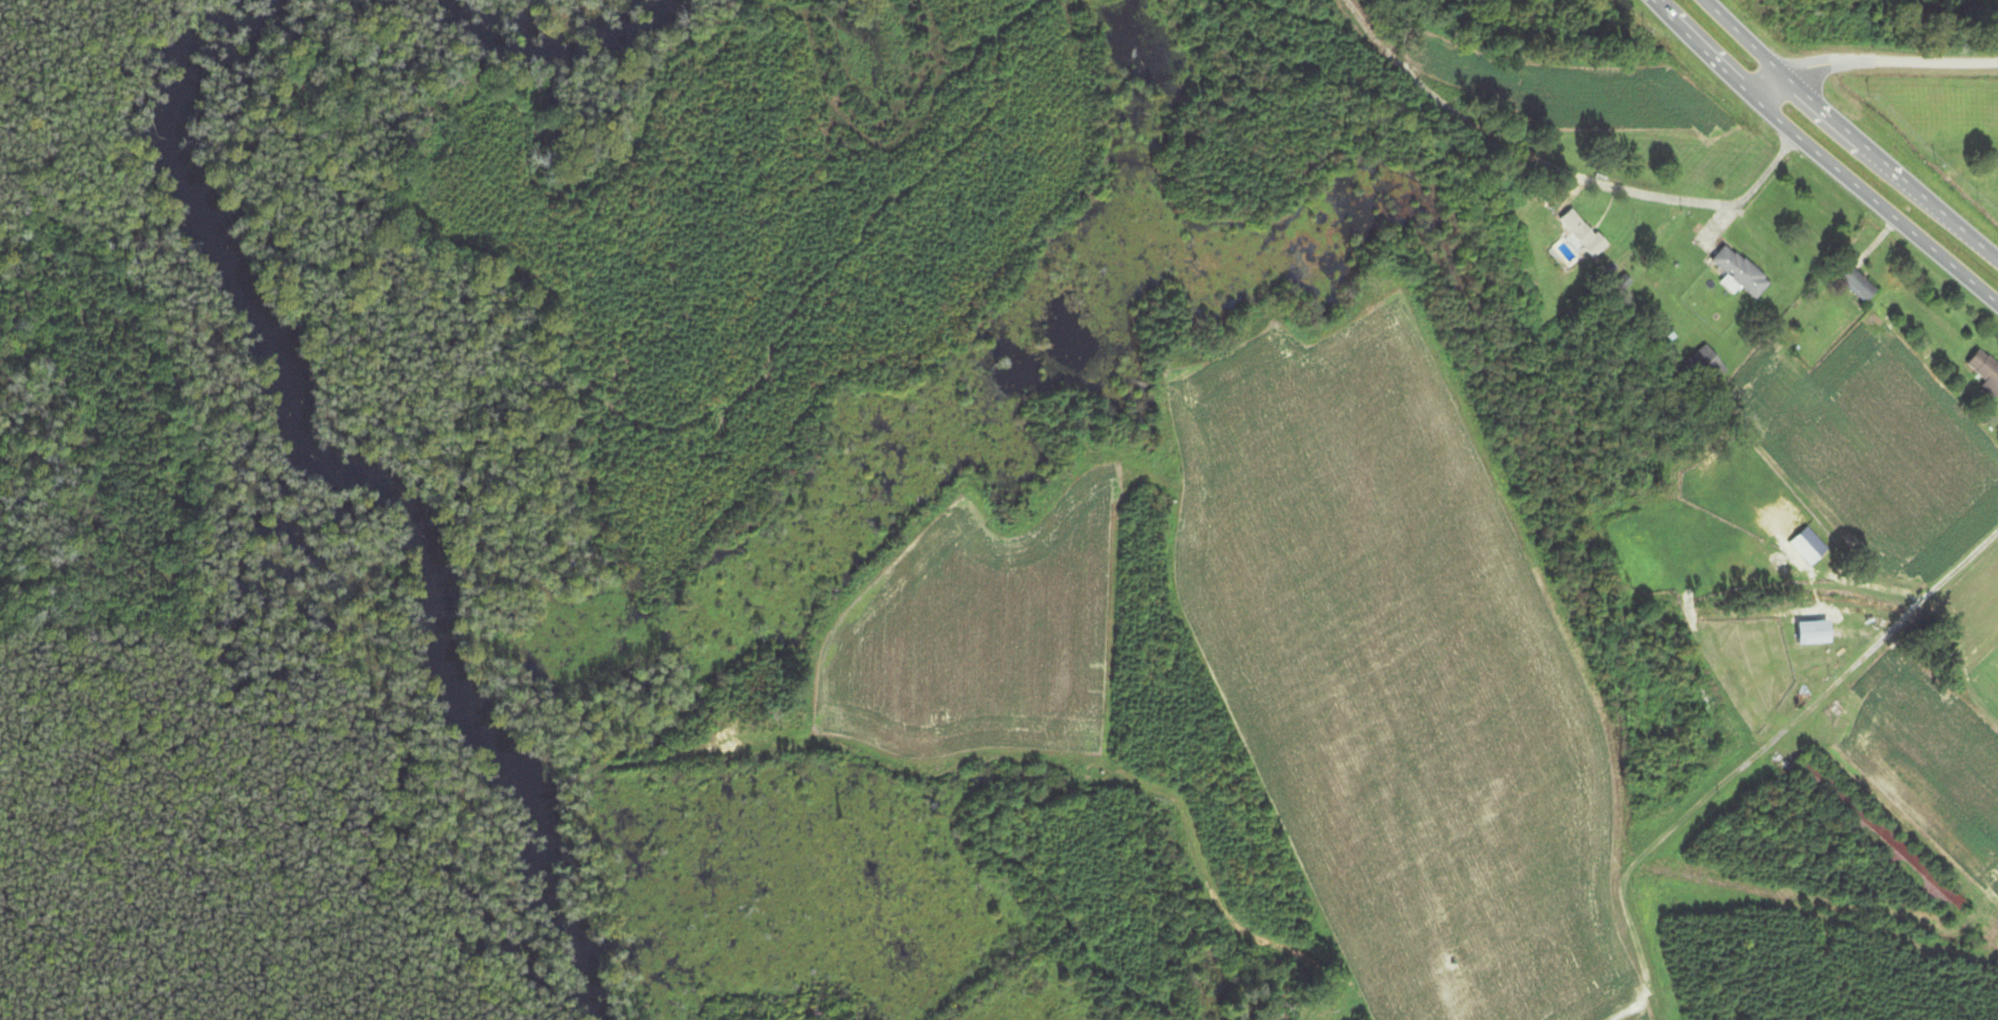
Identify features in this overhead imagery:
road: (1872, 66)
road: (1850, 132)
road: (1820, 158)
road: (1514, 179)
building: (1583, 233)
building: (1740, 273)
building: (1859, 285)
building: (274, 360)
building: (1706, 365)
building: (1986, 371)
building: (1809, 548)
building: (1817, 633)
road: (1750, 751)
building: (1823, 786)

